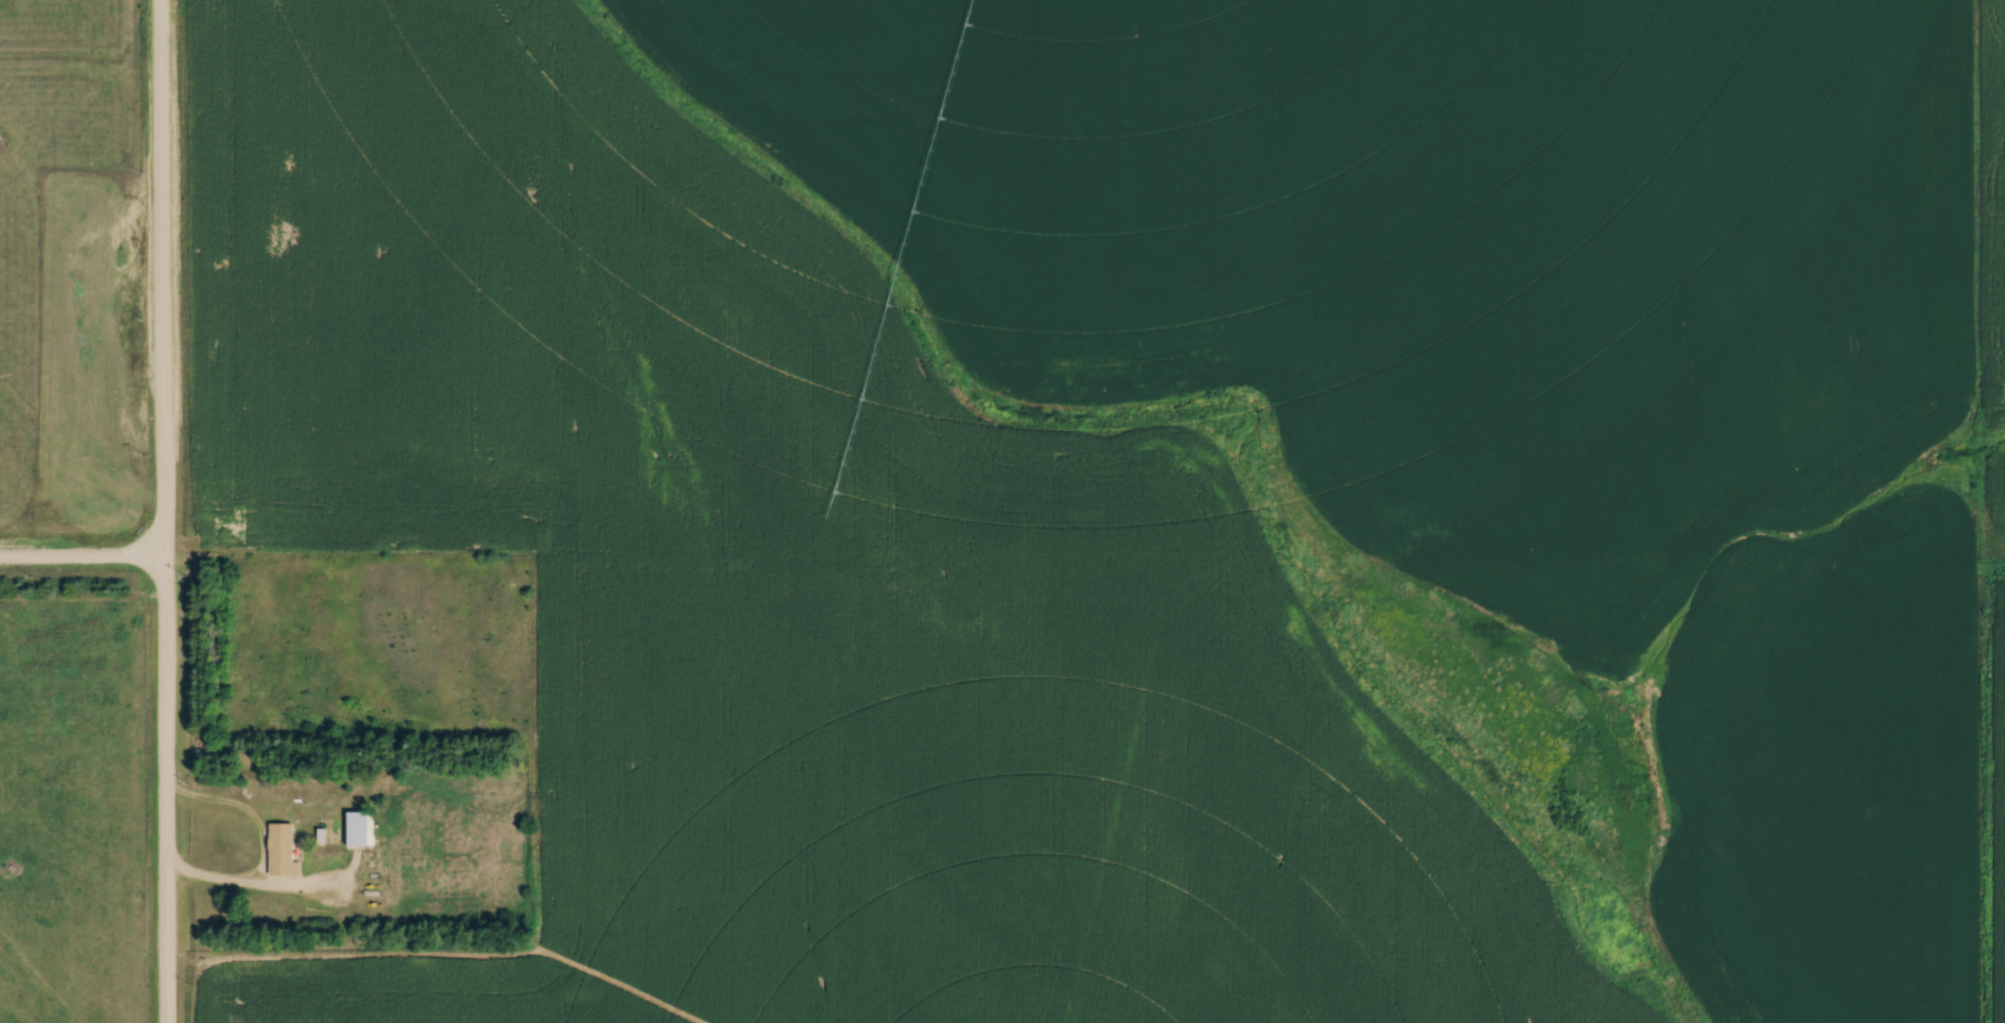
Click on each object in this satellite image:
road: (165, 511)
road: (83, 559)
building: (359, 828)
building: (435, 832)
road: (266, 850)
building: (283, 850)

